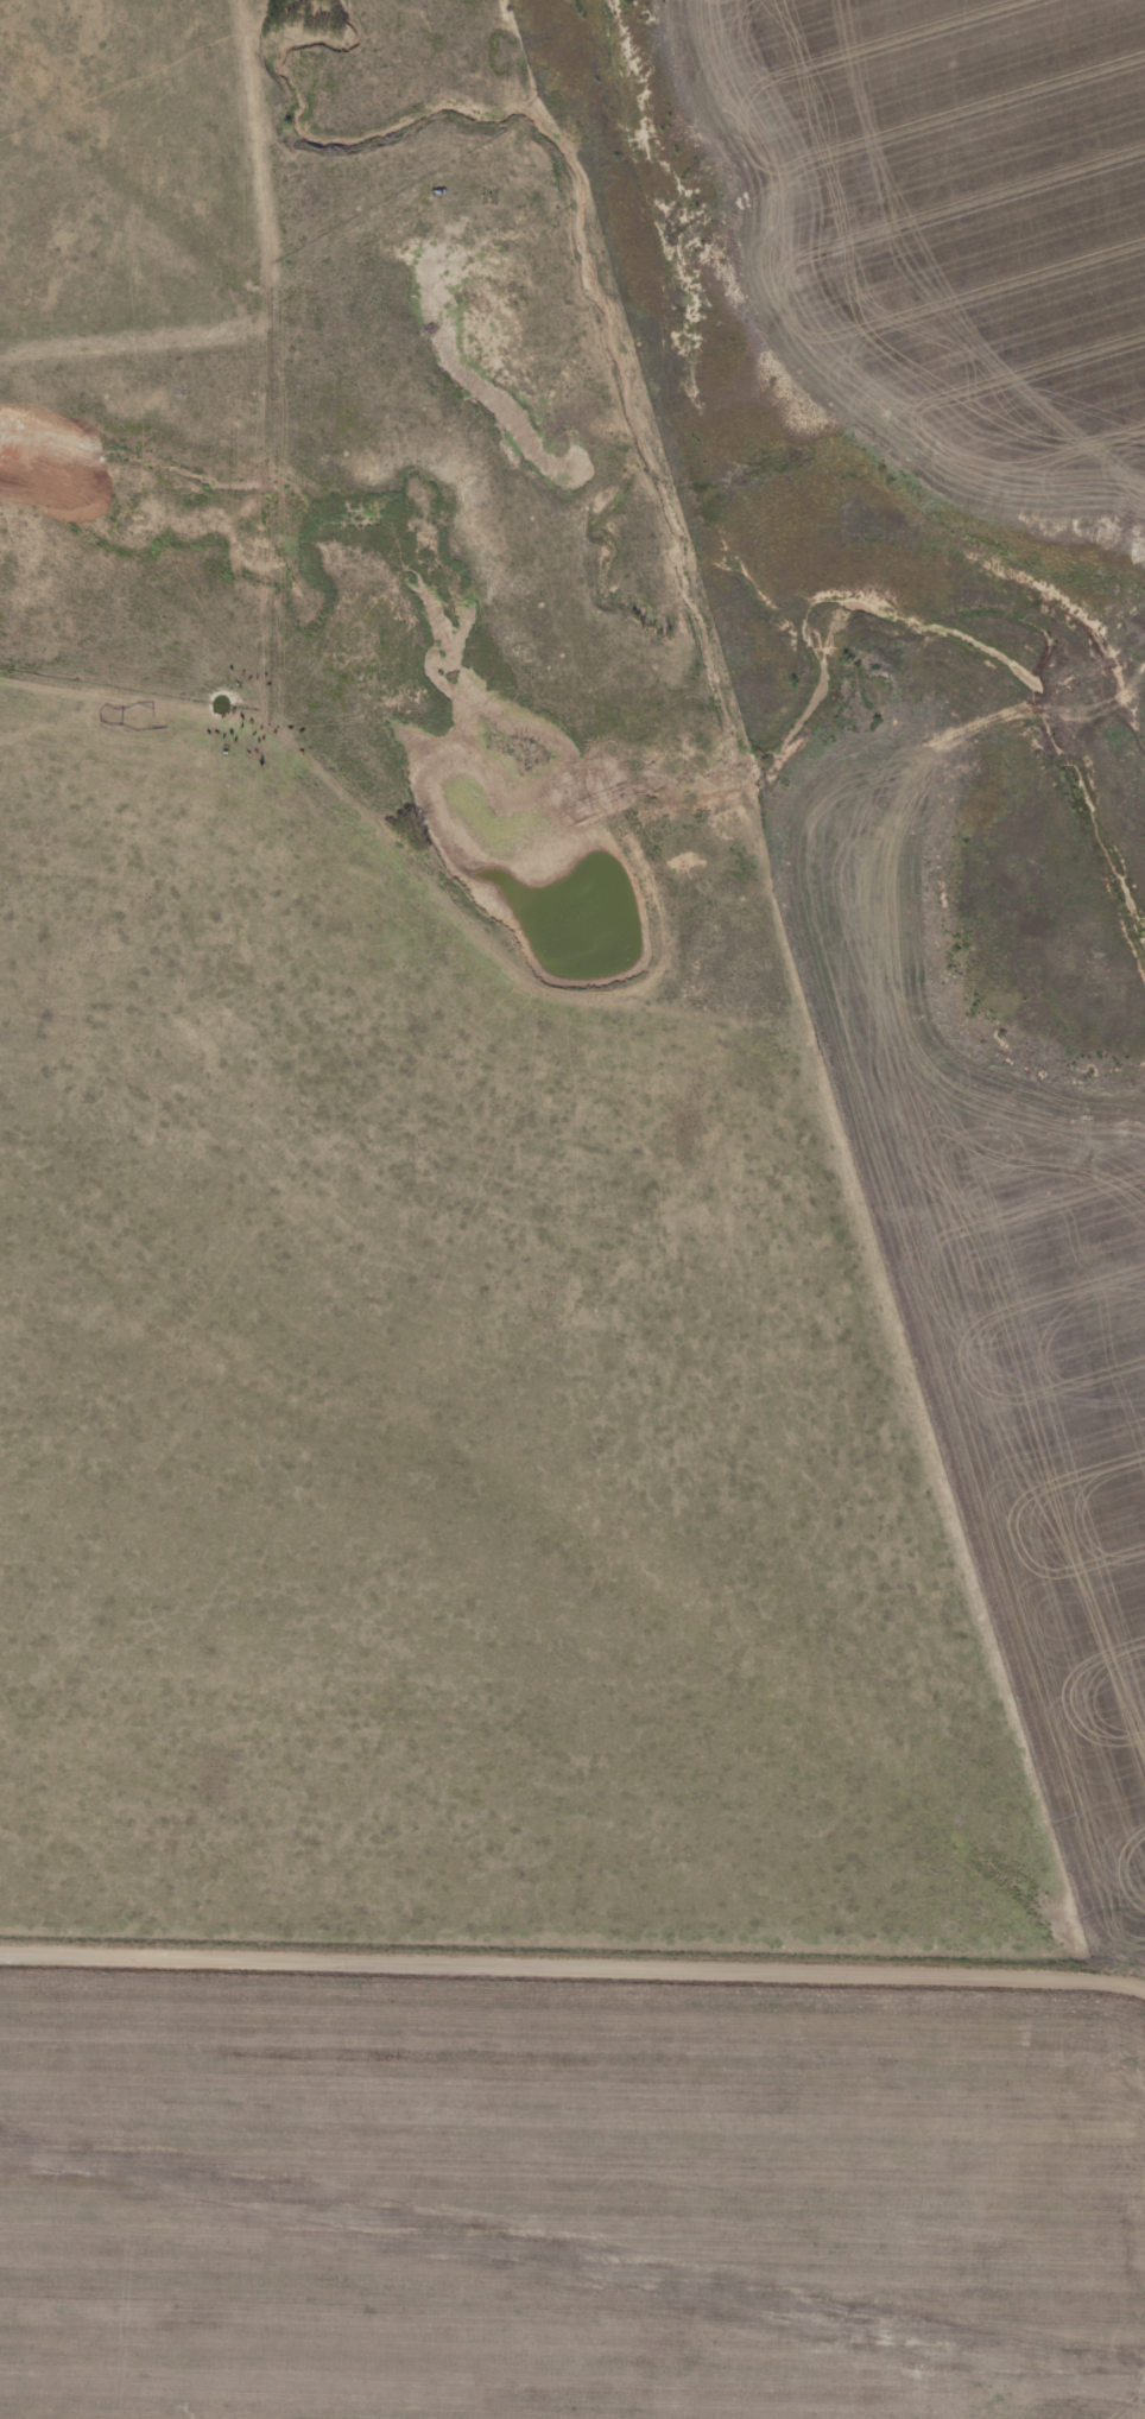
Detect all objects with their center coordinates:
road: (572, 1964)

